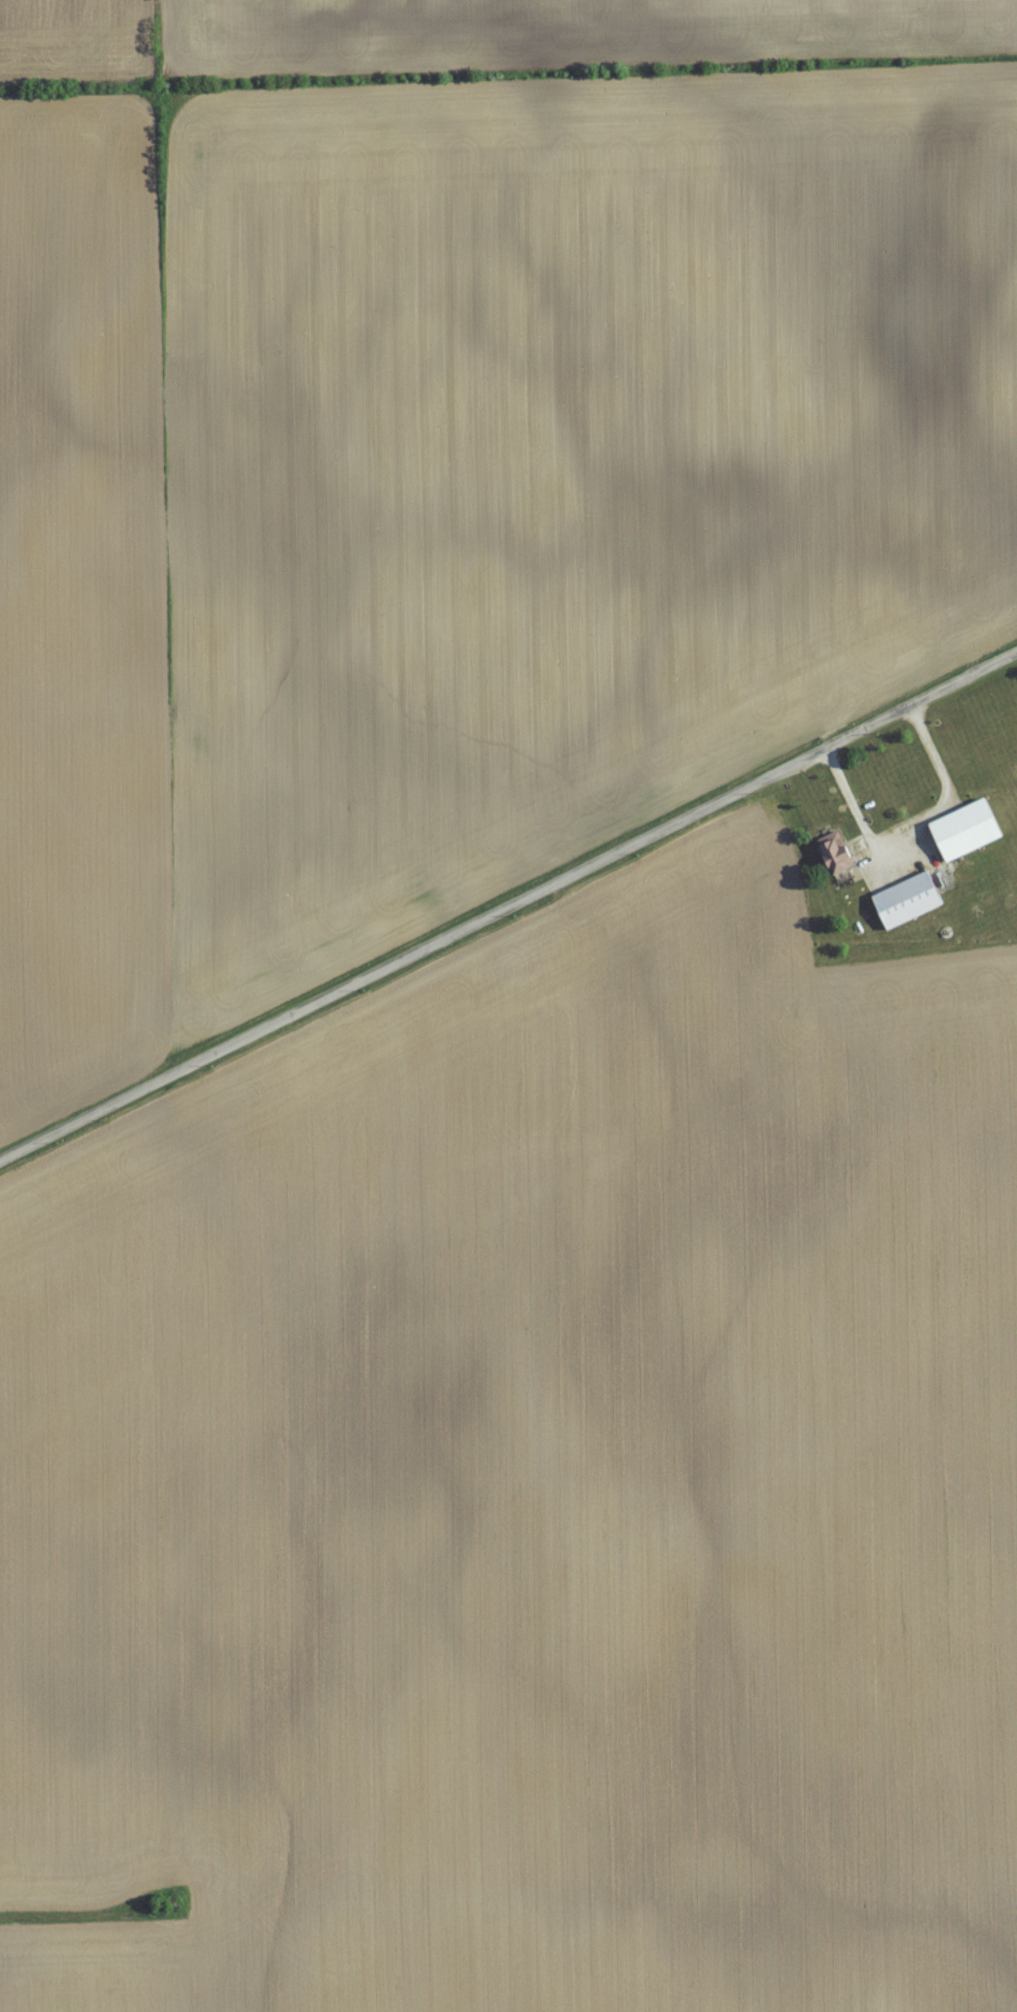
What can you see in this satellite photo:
road: (912, 818)
building: (959, 829)
building: (829, 852)
building: (901, 900)
road: (508, 903)

